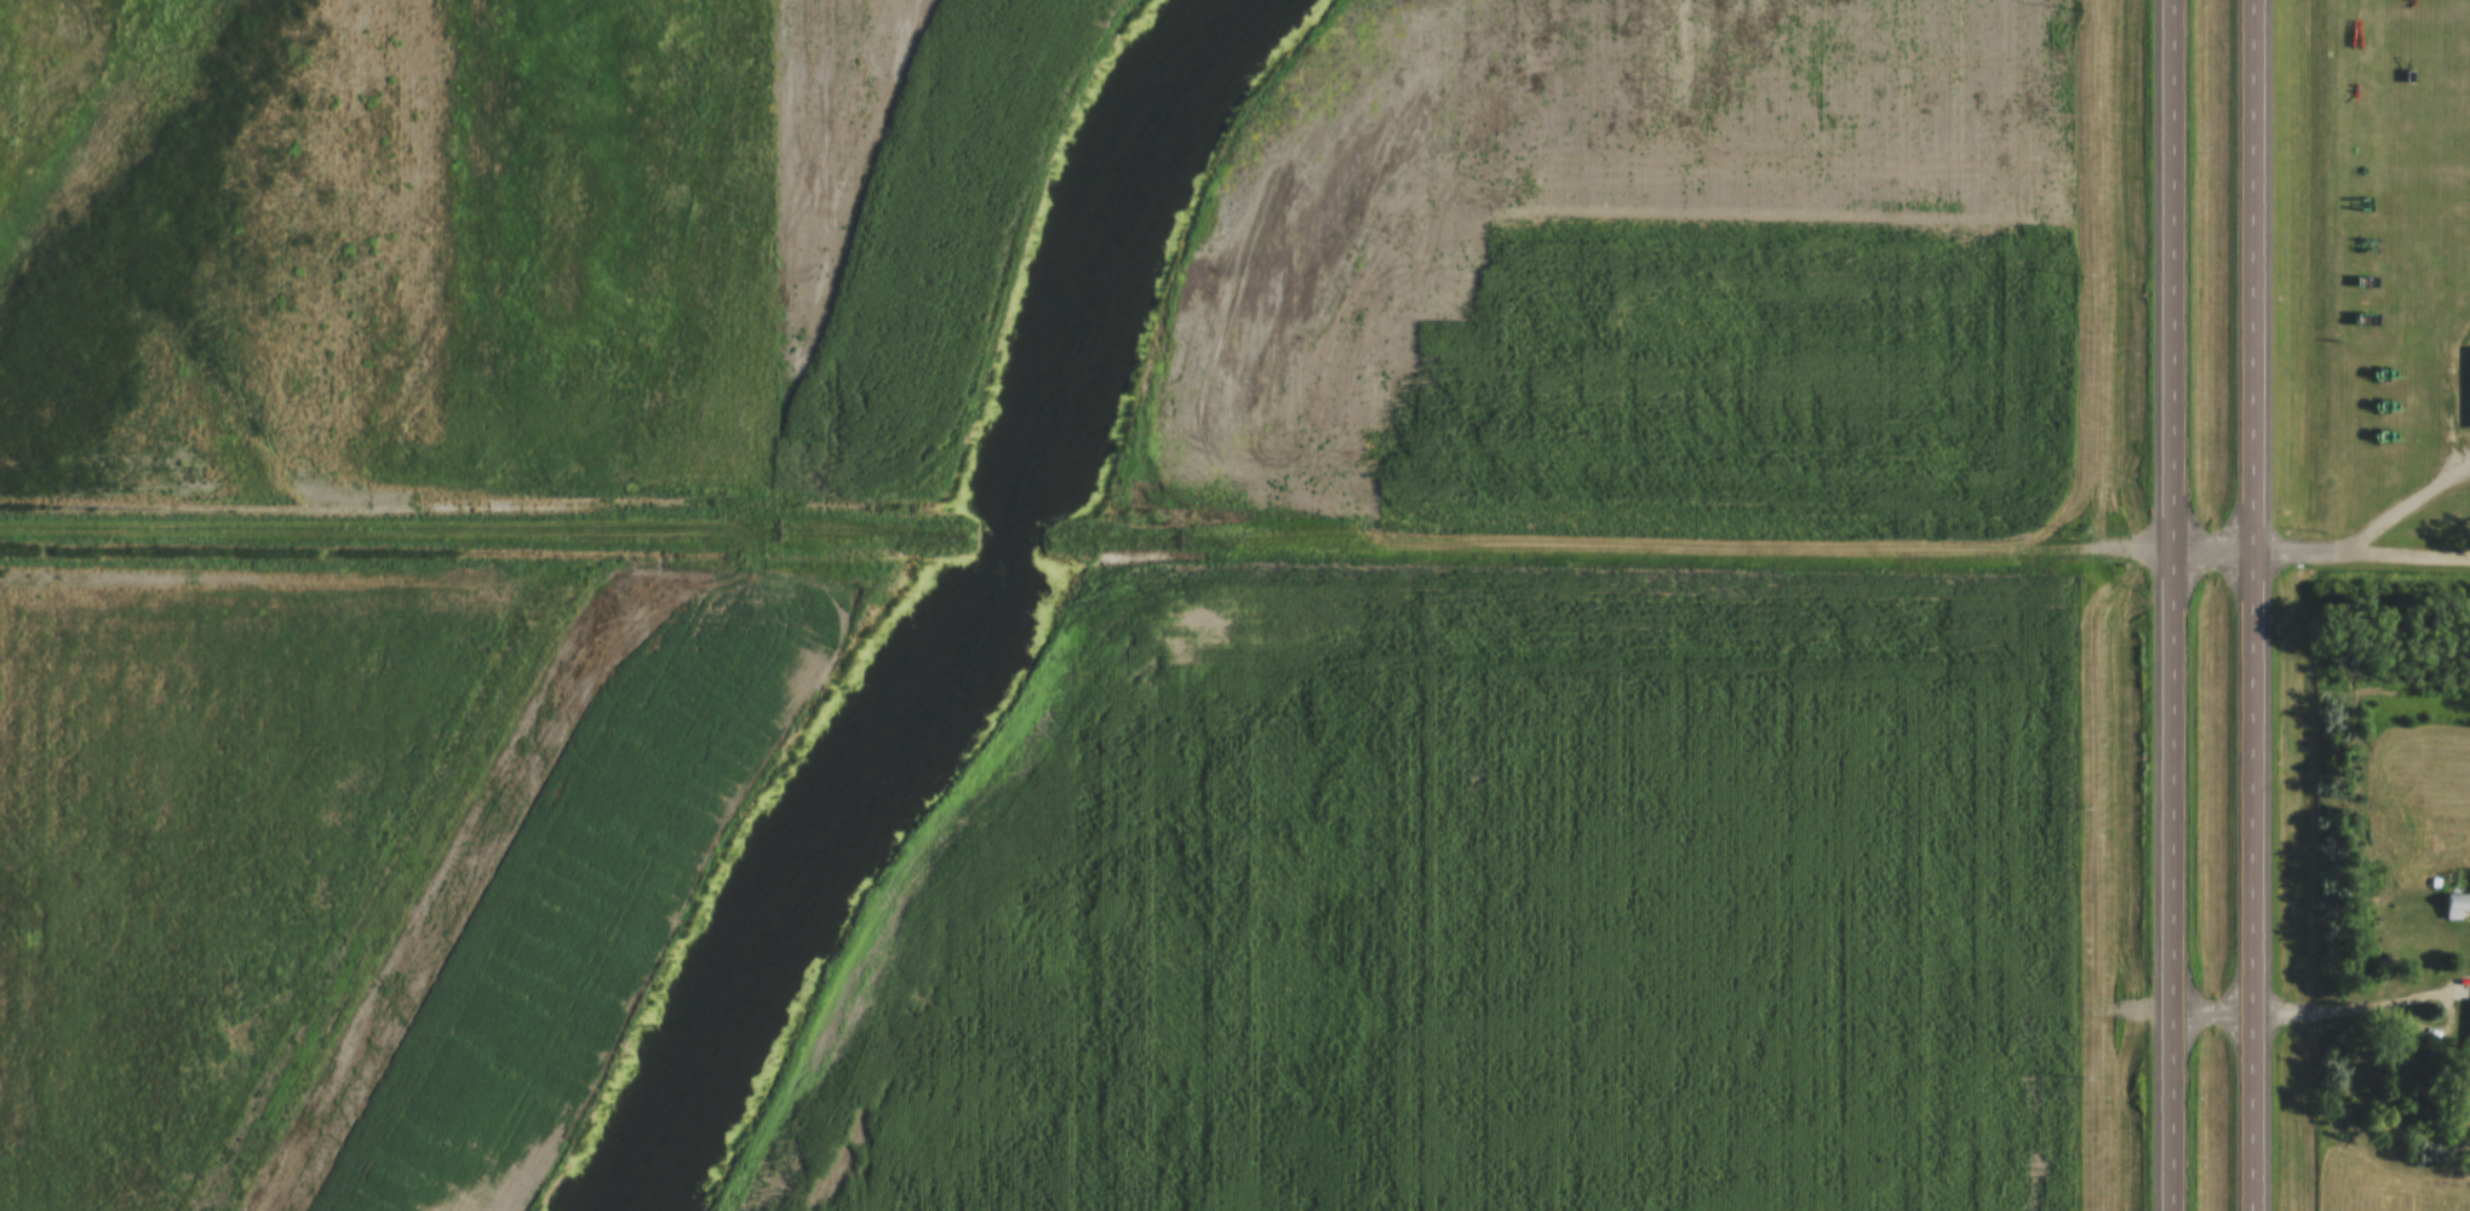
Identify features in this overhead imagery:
road: (492, 535)
road: (1008, 539)
road: (1599, 547)
road: (2319, 550)
road: (2168, 604)
road: (2250, 604)
river: (962, 613)
building: (2455, 905)
building: (2465, 993)

